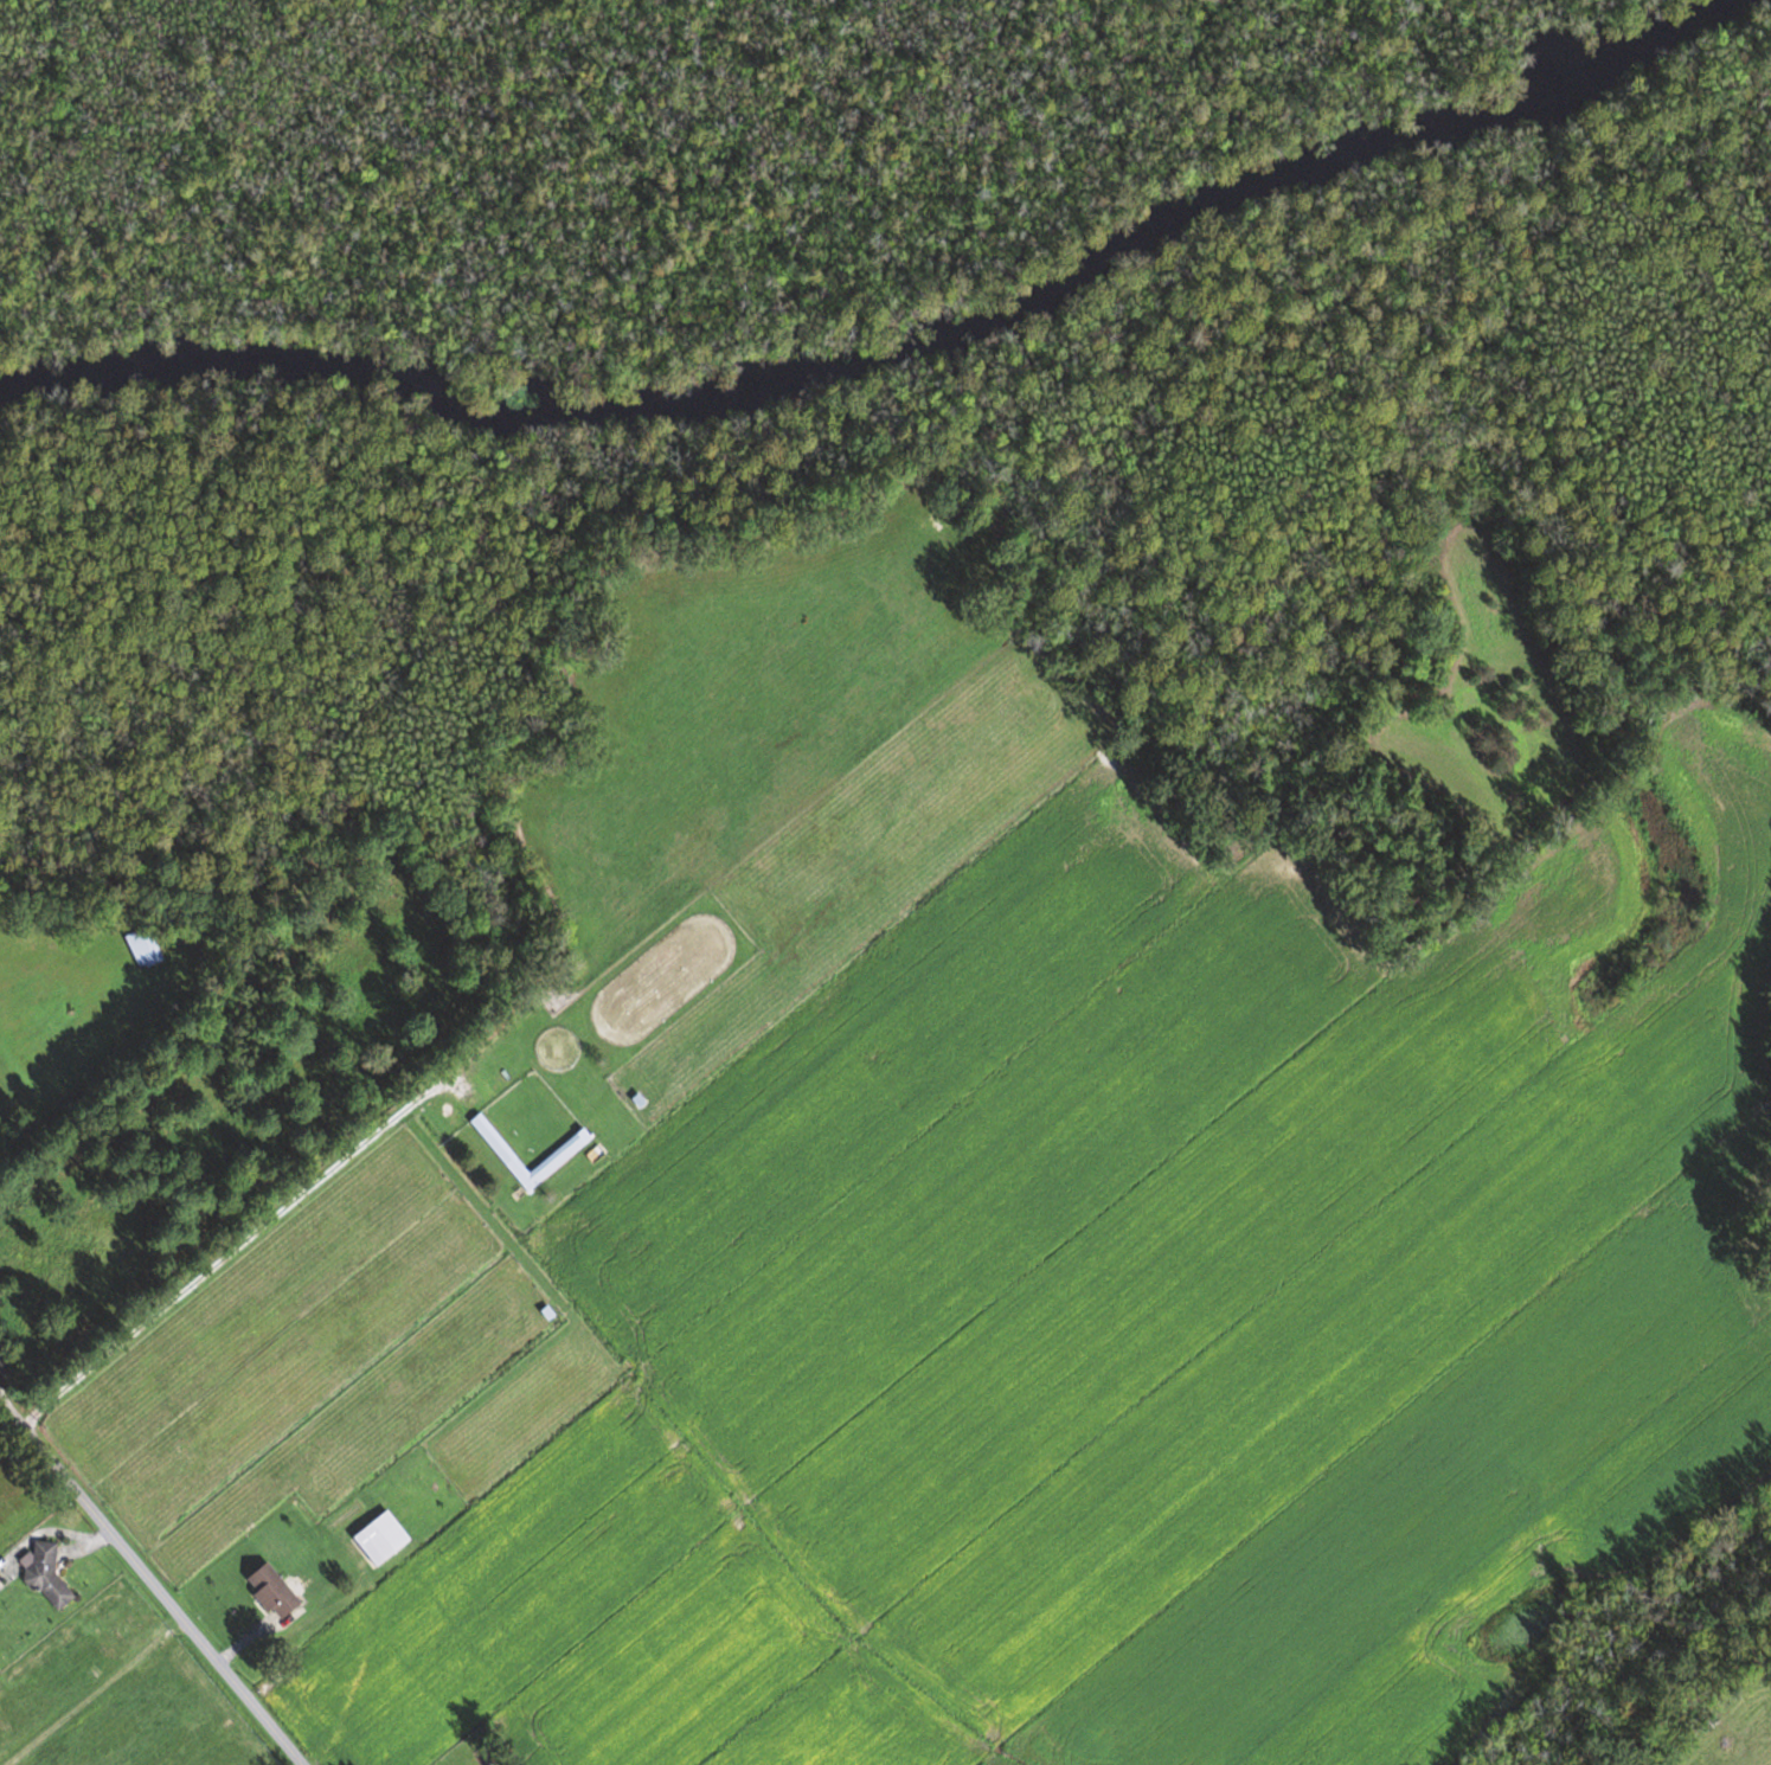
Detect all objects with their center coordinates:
building: (145, 946)
building: (562, 1154)
building: (385, 1536)
building: (50, 1575)
road: (150, 1583)
building: (276, 1591)

